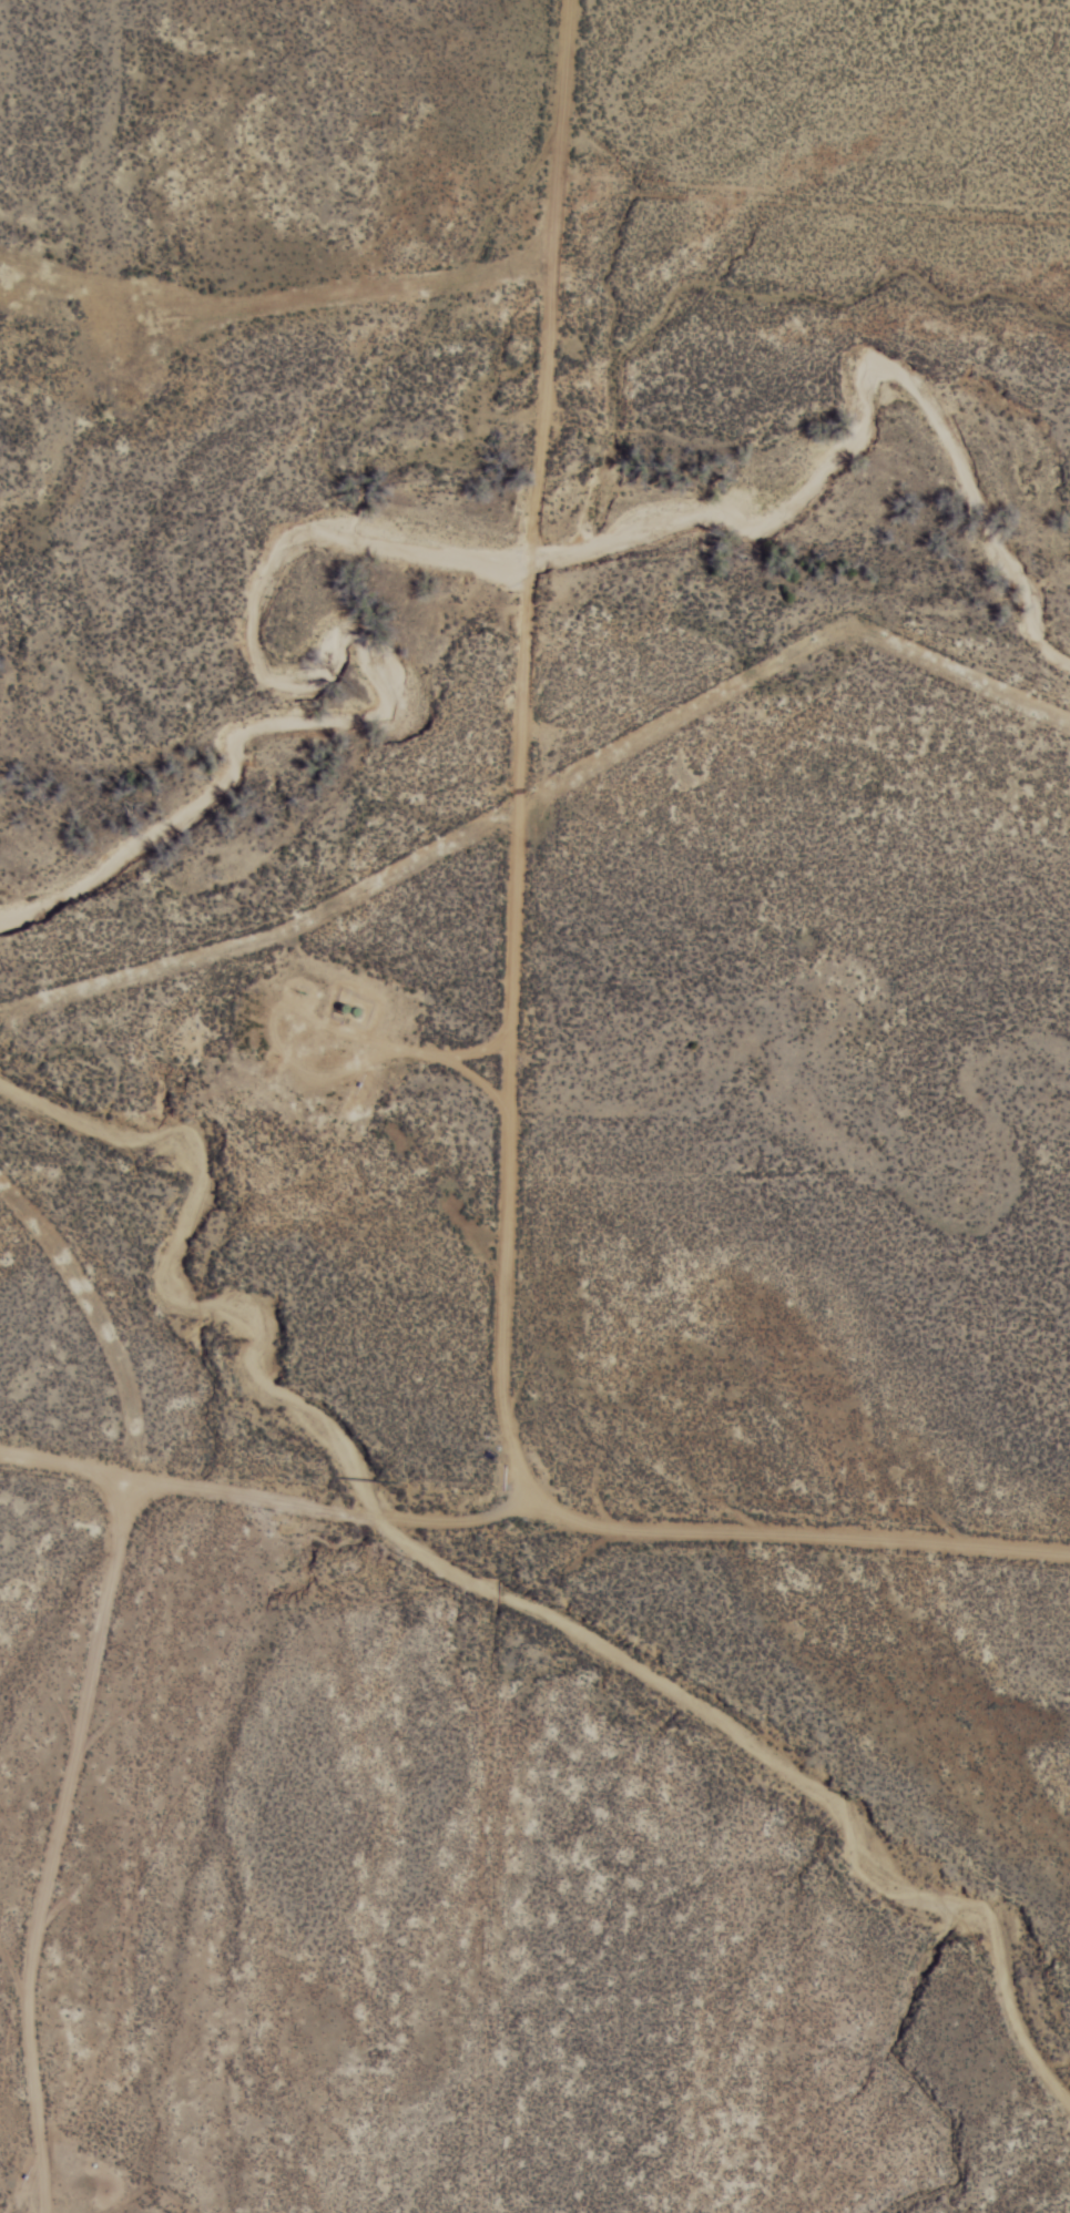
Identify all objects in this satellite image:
road: (830, 191)
river: (490, 532)
road: (516, 1105)
road: (534, 1493)
river: (499, 1574)

